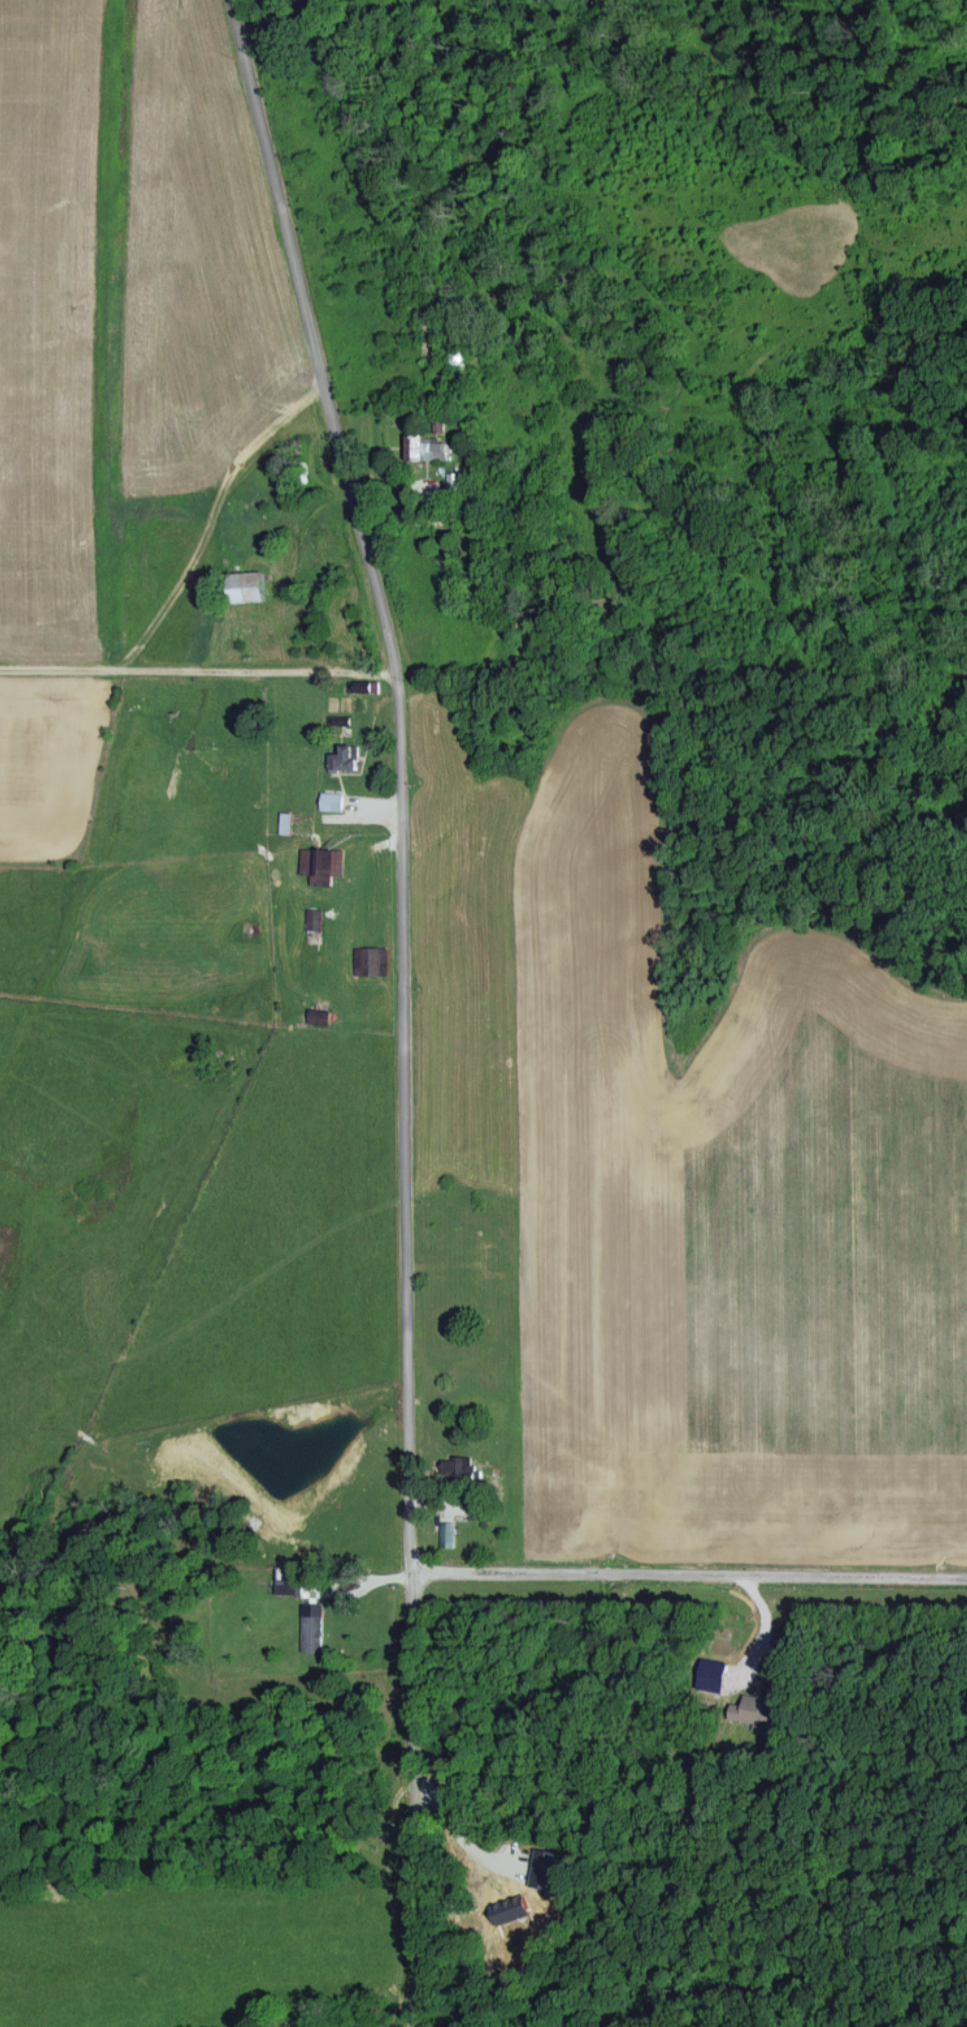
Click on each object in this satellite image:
road: (212, 517)
building: (242, 586)
road: (199, 667)
building: (344, 751)
building: (331, 800)
building: (322, 861)
building: (372, 960)
road: (403, 1002)
building: (467, 1468)
road: (687, 1571)
building: (312, 1632)
building: (755, 1711)
road: (458, 1831)

